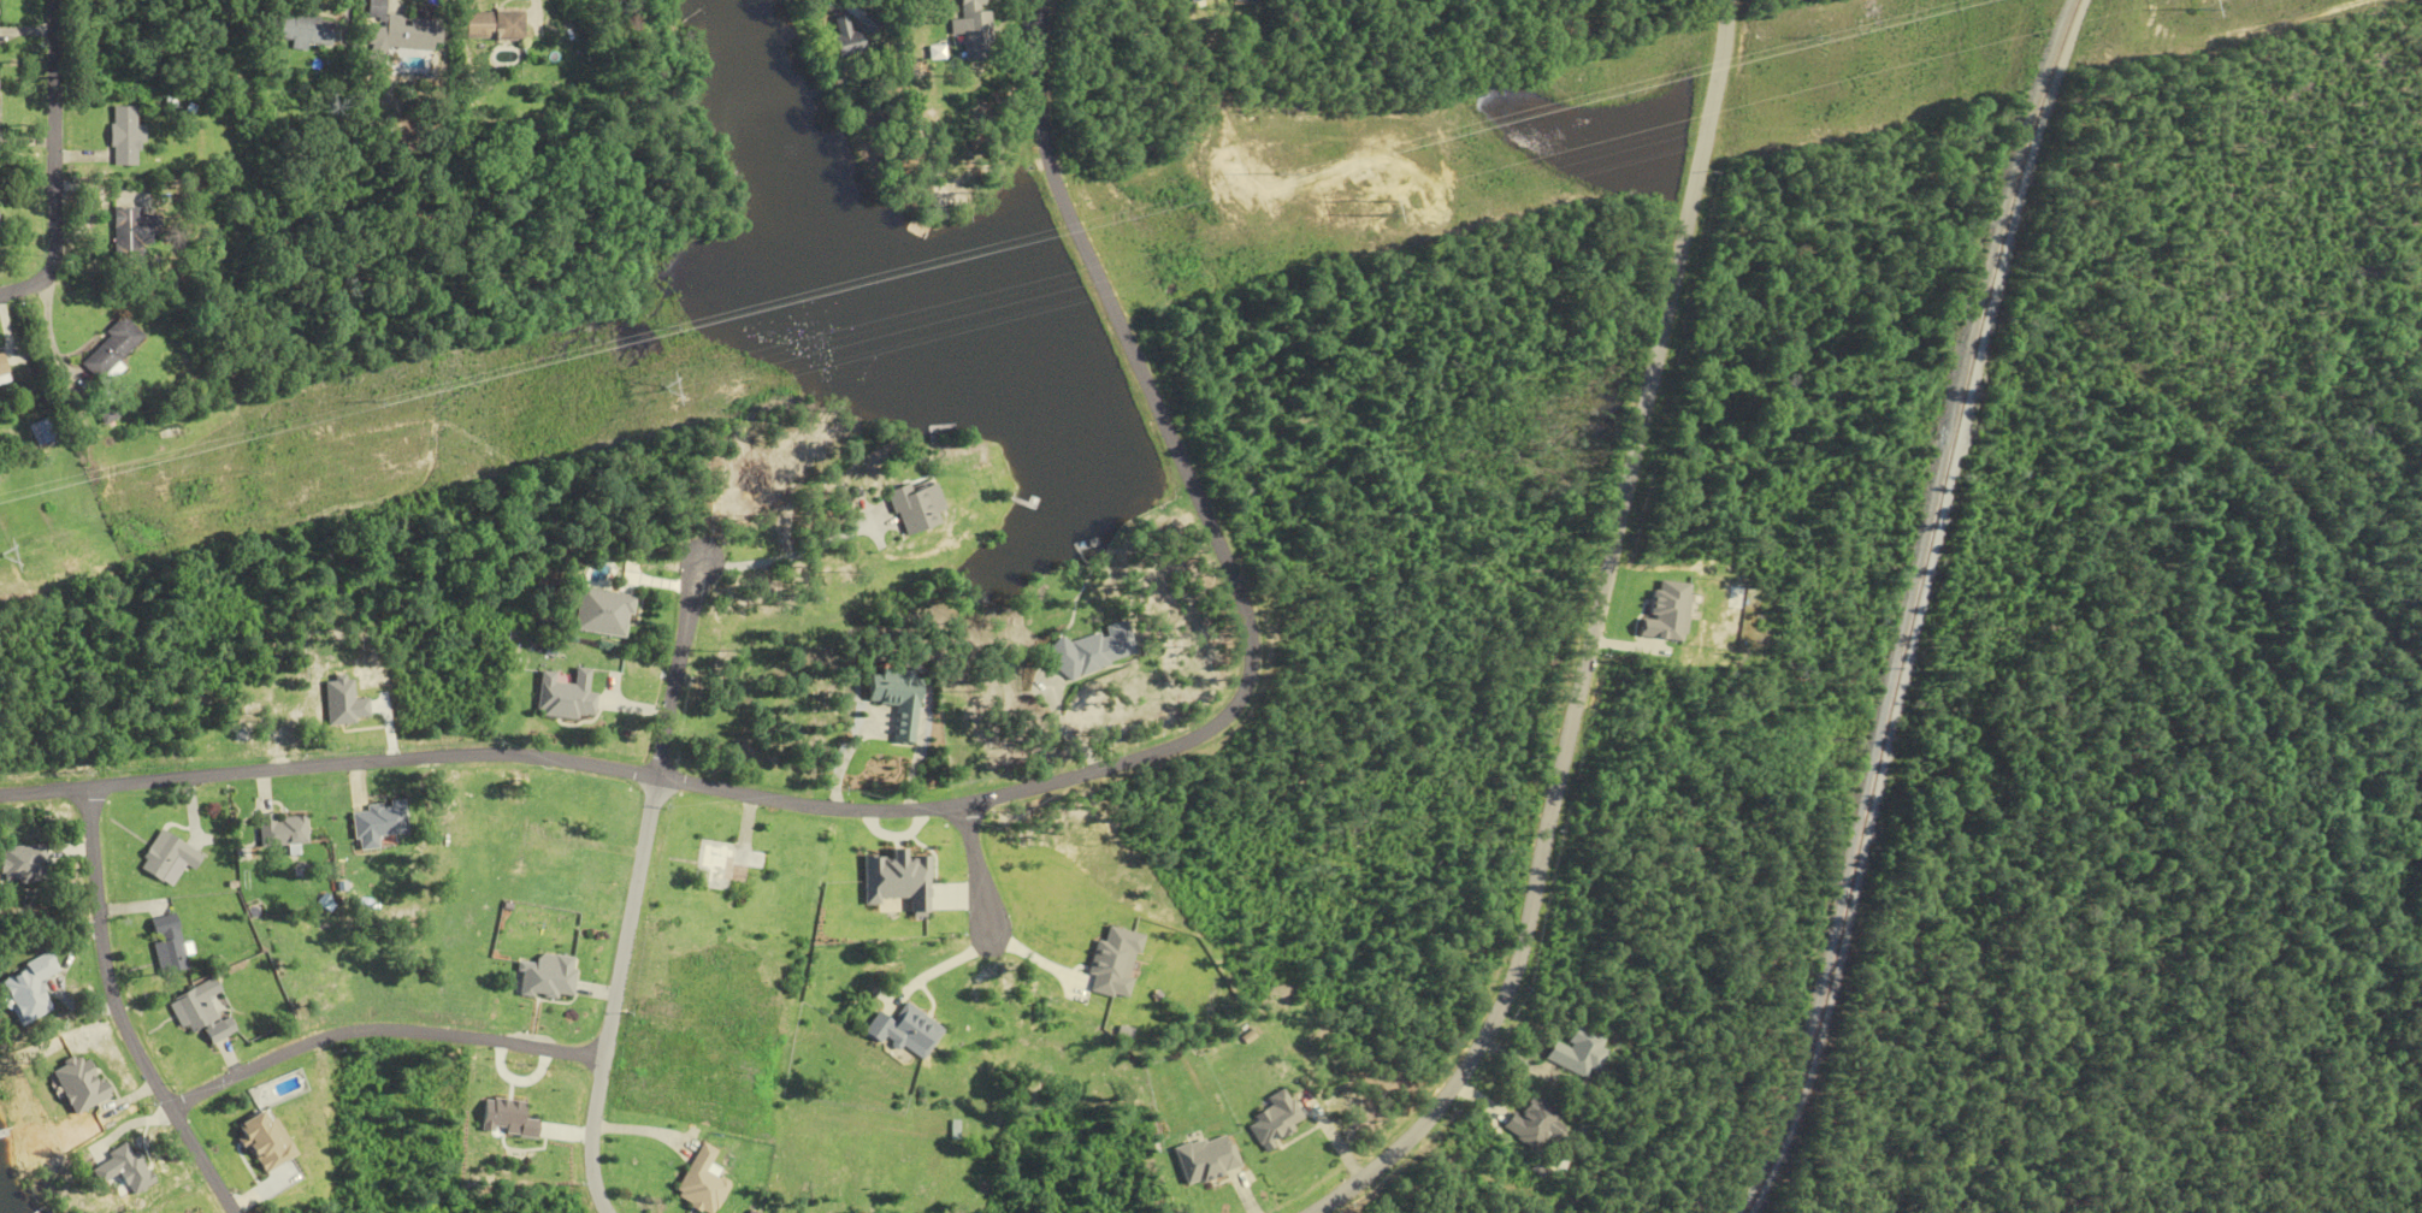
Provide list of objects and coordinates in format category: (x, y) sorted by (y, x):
building: (1233, 0)
building: (1192, 1)
power tower: (2196, 4)
building: (491, 25)
building: (296, 28)
building: (973, 30)
building: (407, 32)
building: (845, 39)
building: (900, 99)
building: (128, 141)
road: (59, 165)
power tower: (1413, 200)
building: (129, 237)
building: (113, 349)
building: (4, 368)
power tower: (666, 386)
building: (48, 431)
building: (912, 510)
road: (792, 554)
power tower: (6, 555)
railway: (1913, 606)
building: (604, 613)
building: (1677, 625)
road: (1600, 641)
building: (1094, 650)
building: (566, 696)
building: (899, 699)
road: (999, 798)
building: (382, 822)
building: (284, 830)
building: (553, 839)
building: (163, 856)
building: (23, 863)
building: (725, 864)
road: (979, 872)
building: (894, 882)
road: (637, 886)
building: (169, 943)
building: (1115, 961)
building: (551, 978)
building: (28, 989)
building: (203, 1013)
road: (120, 1014)
building: (909, 1032)
road: (382, 1034)
building: (1578, 1053)
building: (78, 1083)
building: (1276, 1120)
building: (513, 1122)
building: (1532, 1124)
building: (265, 1140)
building: (1209, 1160)
building: (122, 1168)
building: (701, 1182)

